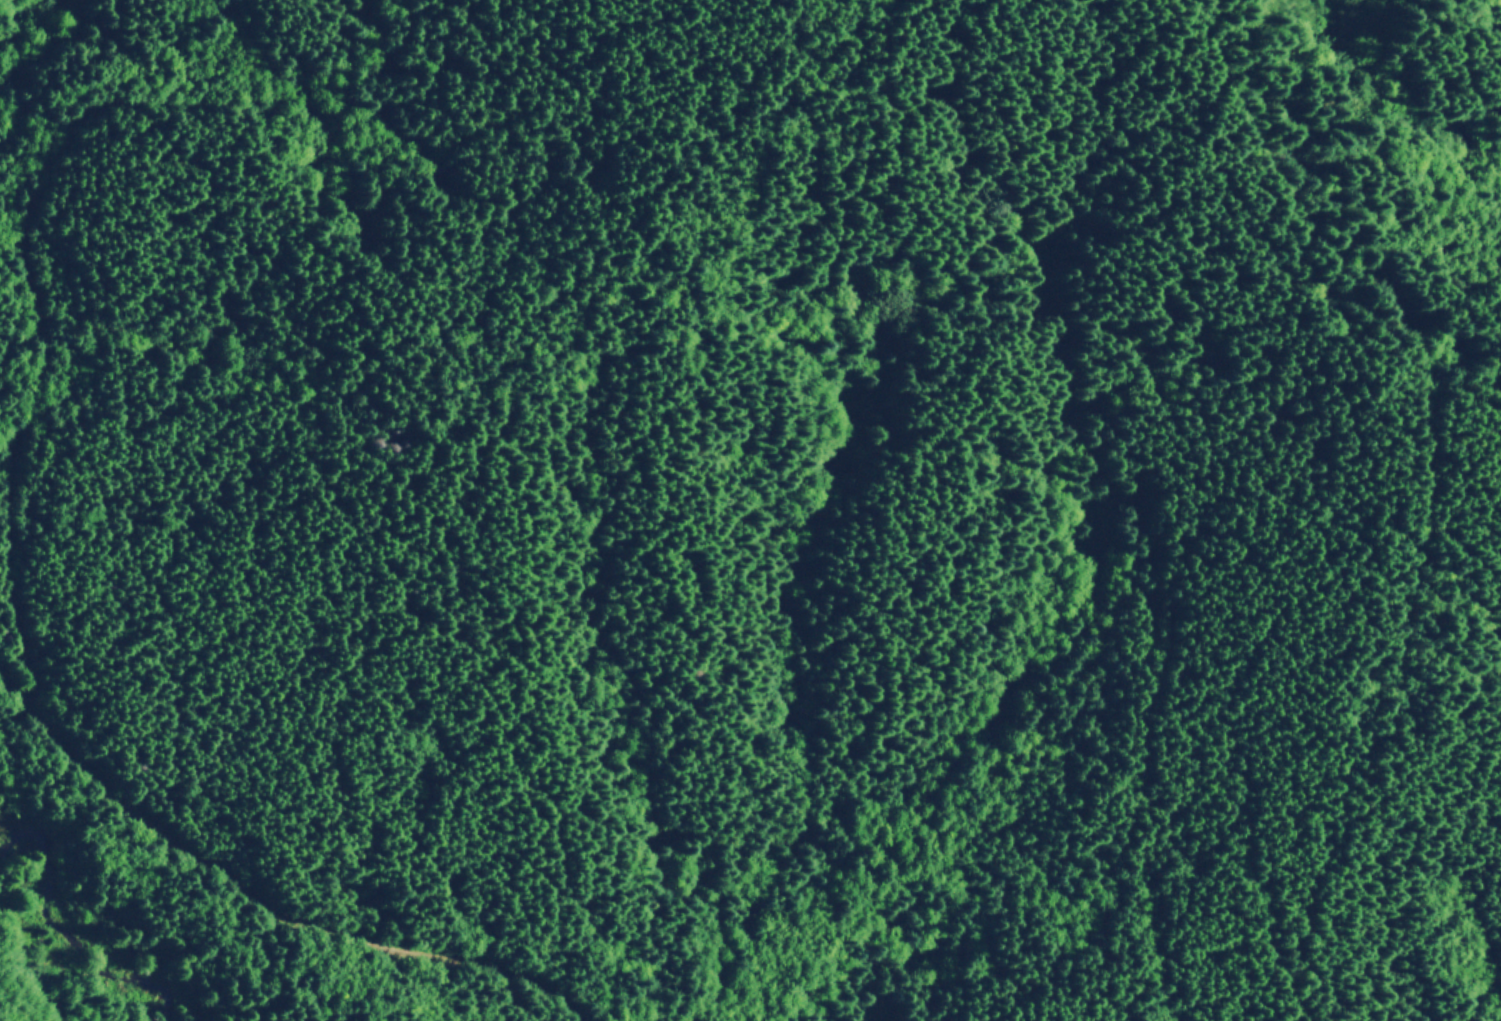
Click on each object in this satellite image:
road: (1360, 191)
road: (256, 832)

